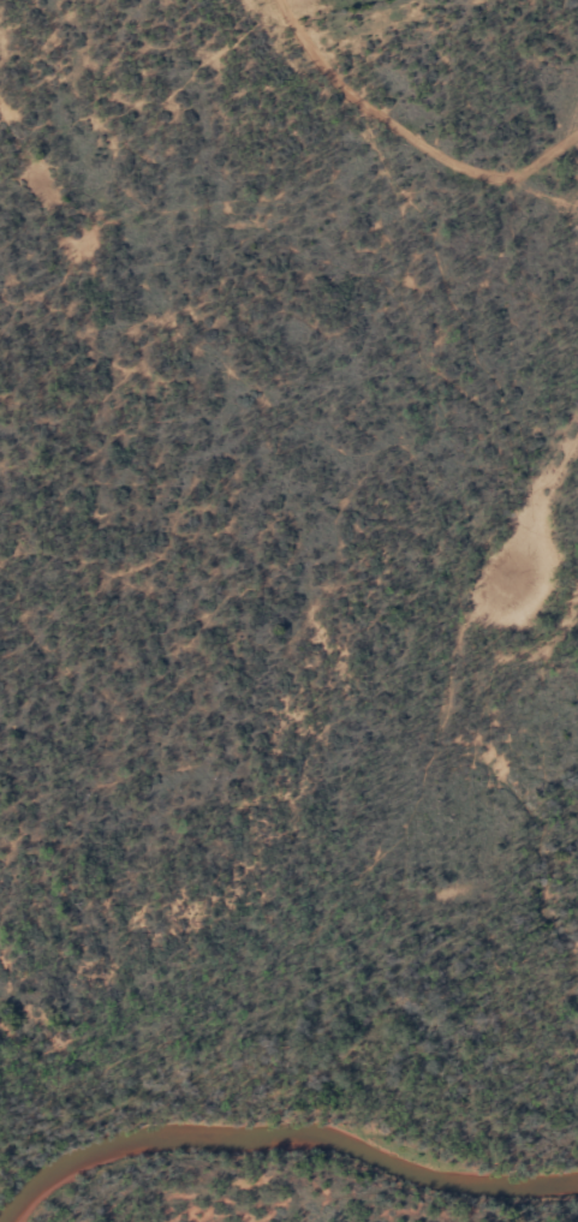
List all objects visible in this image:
road: (266, 64)
road: (296, 715)
river: (290, 1141)

